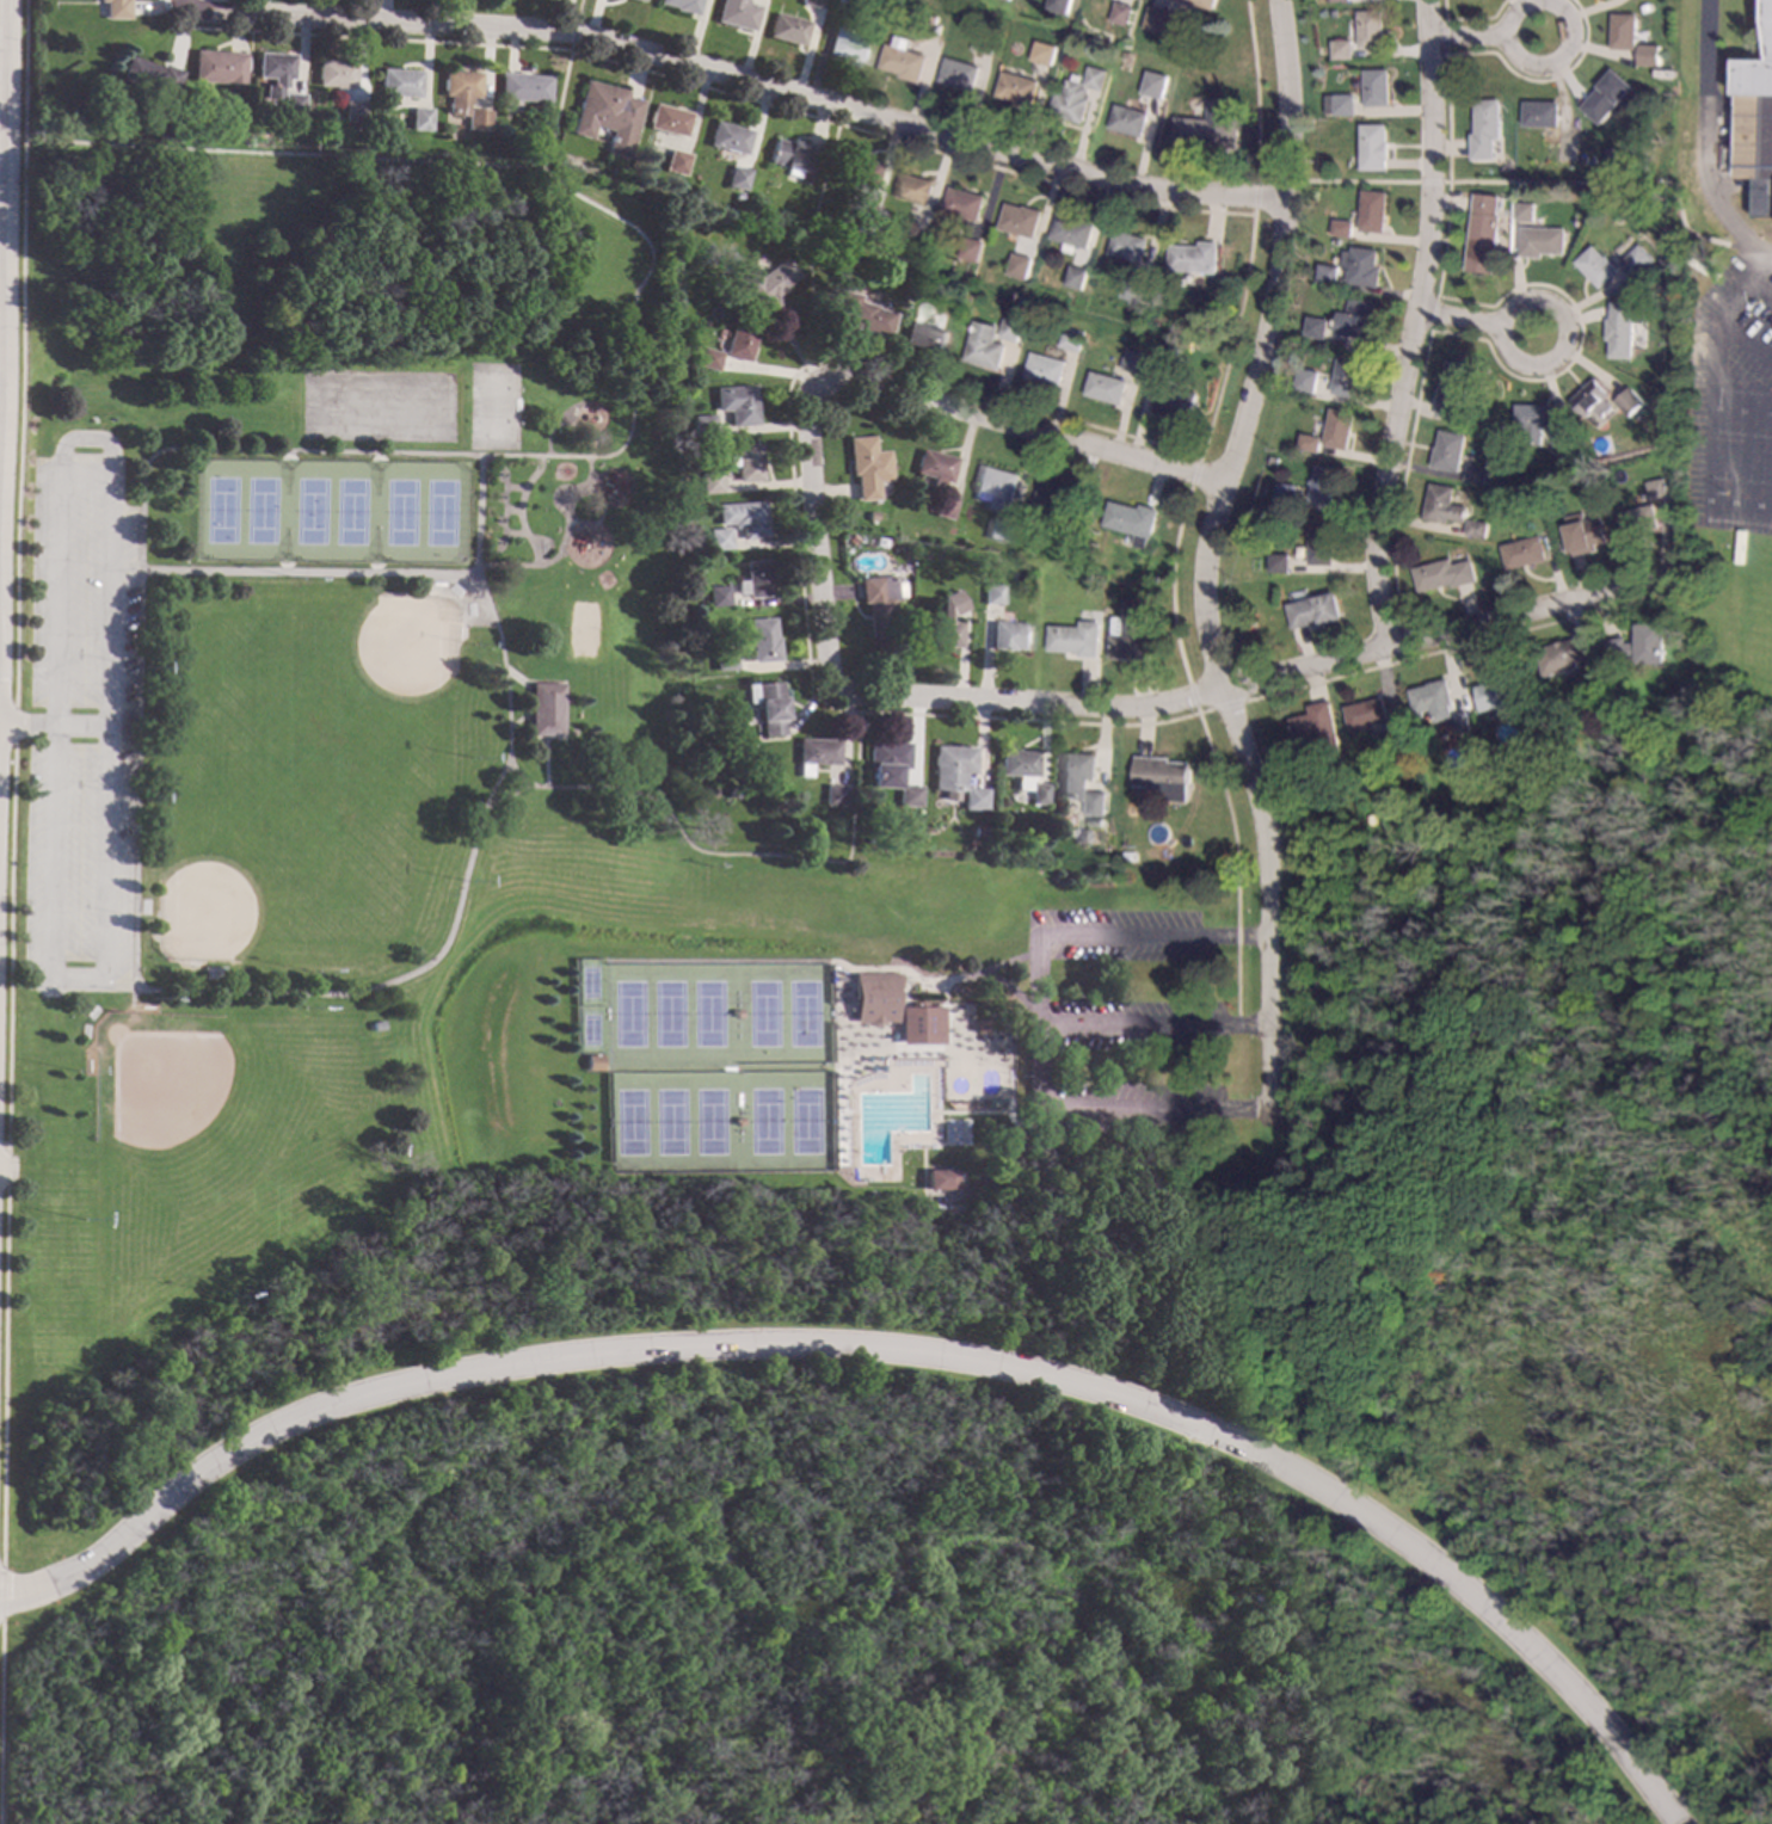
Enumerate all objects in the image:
building: (636, 0)
building: (1336, 0)
road: (180, 2)
building: (811, 2)
building: (1060, 2)
building: (1202, 4)
building: (681, 6)
building: (1647, 7)
building: (113, 8)
building: (1121, 13)
building: (736, 14)
building: (1161, 20)
road: (0, 23)
building: (1371, 29)
building: (787, 30)
building: (1624, 31)
building: (921, 32)
road: (1485, 39)
building: (983, 42)
building: (848, 48)
building: (1342, 49)
building: (1042, 53)
building: (1645, 56)
building: (903, 62)
building: (216, 68)
building: (273, 73)
building: (958, 73)
building: (334, 74)
building: (148, 75)
road: (733, 80)
building: (399, 84)
road: (561, 84)
building: (521, 87)
building: (1377, 87)
building: (1016, 88)
building: (1760, 93)
building: (1076, 95)
building: (1153, 95)
building: (1607, 95)
building: (462, 98)
building: (291, 104)
building: (1345, 105)
building: (1542, 113)
building: (351, 116)
building: (604, 117)
building: (419, 119)
building: (666, 121)
building: (1127, 121)
building: (1206, 128)
building: (1485, 129)
building: (727, 138)
building: (1569, 144)
building: (1373, 147)
building: (1722, 156)
building: (792, 158)
building: (1585, 159)
building: (673, 162)
building: (859, 171)
building: (611, 172)
building: (736, 178)
road: (1259, 180)
road: (1358, 181)
road: (1433, 181)
road: (1611, 183)
building: (915, 187)
building: (964, 203)
building: (1373, 211)
building: (1525, 211)
building: (866, 215)
building: (1020, 220)
building: (911, 226)
building: (856, 228)
building: (1342, 228)
building: (1072, 232)
building: (1483, 233)
building: (1543, 241)
road: (1747, 244)
road: (806, 245)
building: (1127, 246)
building: (971, 248)
building: (1194, 258)
building: (1638, 261)
building: (1021, 265)
building: (1362, 266)
building: (1596, 266)
building: (1327, 275)
building: (1076, 277)
road: (1742, 279)
building: (767, 285)
building: (1133, 288)
building: (860, 316)
building: (1356, 319)
building: (673, 320)
road: (1477, 322)
road: (1416, 323)
building: (1316, 327)
building: (1624, 327)
building: (1009, 331)
building: (925, 338)
building: (1071, 338)
building: (740, 341)
building: (984, 346)
building: (1165, 357)
building: (707, 359)
building: (1133, 361)
building: (1045, 369)
building: (1346, 375)
building: (1308, 381)
building: (1106, 388)
building: (1453, 388)
building: (1594, 399)
parking lot: (1733, 399)
building: (1175, 401)
building: (1631, 401)
building: (737, 405)
park: (490, 408)
building: (1534, 420)
building: (703, 425)
building: (1337, 427)
building: (1559, 435)
building: (1573, 439)
road: (82, 440)
building: (1311, 443)
building: (1448, 450)
road: (550, 456)
building: (749, 463)
building: (935, 468)
building: (866, 469)
road: (1195, 469)
building: (1475, 474)
building: (710, 482)
building: (1324, 483)
building: (996, 486)
building: (1657, 488)
building: (1056, 494)
building: (1285, 494)
building: (1502, 503)
building: (1442, 505)
building: (943, 507)
park: (324, 513)
building: (872, 517)
building: (744, 518)
building: (1132, 520)
building: (1637, 520)
road: (794, 526)
building: (1476, 528)
building: (1001, 530)
building: (1071, 534)
building: (1585, 534)
building: (702, 540)
building: (719, 540)
building: (853, 540)
building: (1321, 546)
road: (1202, 553)
building: (1522, 553)
building: (1279, 563)
road: (288, 572)
road: (16, 573)
building: (1442, 574)
building: (755, 580)
road: (1170, 584)
building: (995, 593)
building: (716, 596)
building: (878, 605)
building: (1315, 610)
building: (1278, 620)
building: (946, 623)
park: (579, 629)
building: (1131, 630)
building: (1010, 636)
building: (1076, 636)
building: (762, 640)
building: (1638, 646)
building: (1564, 655)
building: (724, 659)
park: (371, 672)
building: (1499, 694)
road: (886, 697)
road: (1193, 698)
building: (1434, 700)
road: (1228, 704)
building: (767, 707)
building: (543, 709)
building: (1367, 714)
building: (1421, 716)
building: (1527, 716)
road: (25, 723)
road: (78, 727)
parking lot: (78, 728)
building: (1318, 729)
building: (813, 754)
building: (886, 754)
building: (1549, 762)
building: (1017, 765)
building: (955, 775)
building: (1163, 777)
building: (1082, 781)
building: (1367, 781)
park: (461, 790)
building: (1035, 794)
building: (832, 795)
building: (906, 796)
building: (1099, 821)
road: (47, 852)
road: (103, 854)
road: (468, 858)
road: (736, 858)
park: (236, 879)
road: (72, 979)
road: (115, 988)
building: (874, 998)
park: (1534, 1007)
road: (1036, 1016)
parking lot: (1124, 1016)
building: (919, 1024)
building: (980, 1027)
road: (1153, 1027)
building: (592, 1062)
park: (714, 1070)
park: (181, 1120)
road: (2, 1145)
building: (940, 1179)
road: (2, 1287)
road: (887, 1350)
park: (923, 1526)

